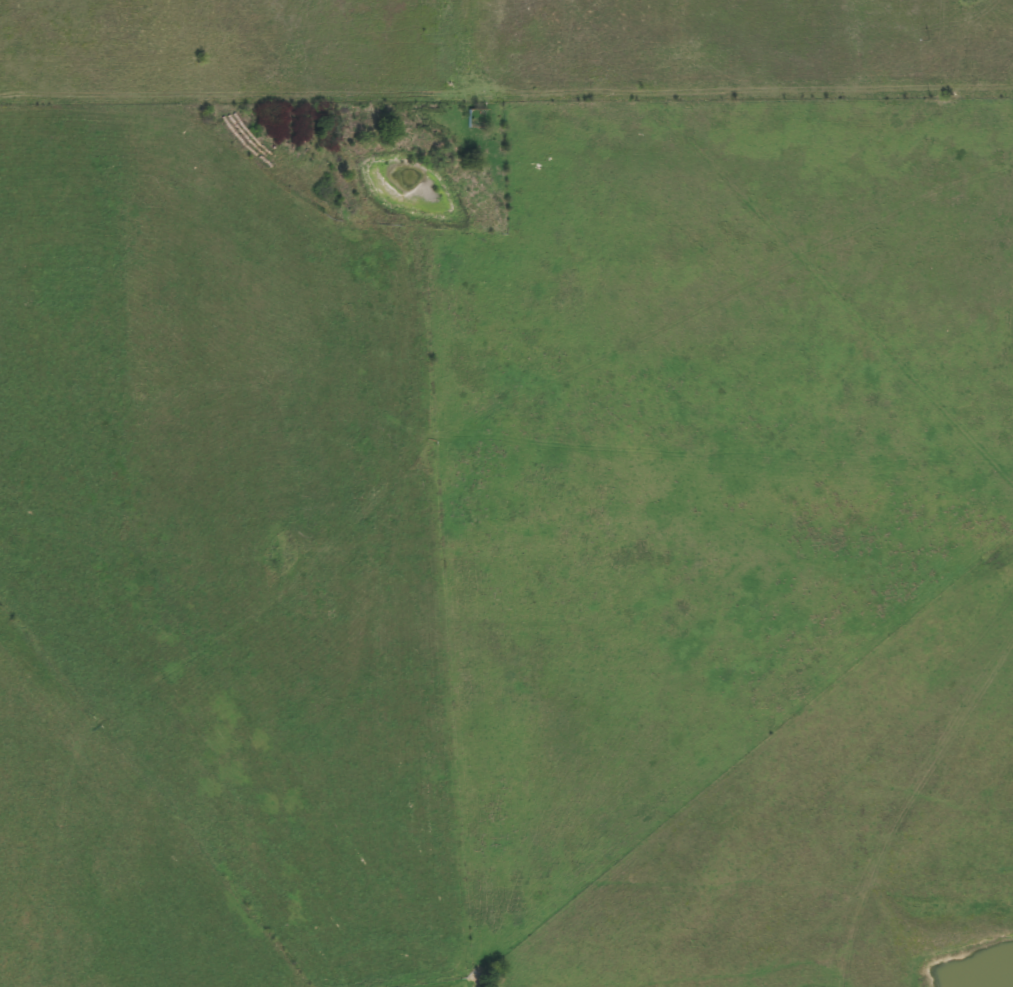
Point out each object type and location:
building: (476, 118)

